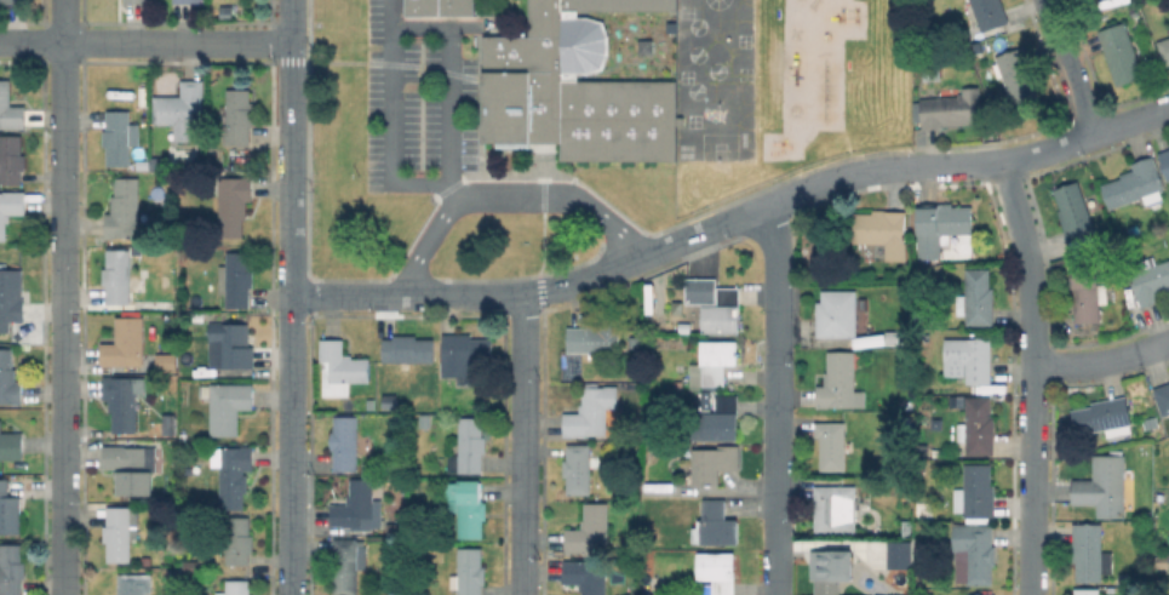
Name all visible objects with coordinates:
building: (13, 1)
building: (137, 1)
building: (189, 1)
building: (437, 6)
building: (228, 11)
building: (990, 13)
road: (145, 42)
building: (1164, 48)
building: (1122, 53)
road: (1072, 68)
building: (1019, 78)
road: (447, 86)
building: (572, 87)
building: (182, 108)
building: (953, 108)
building: (10, 109)
building: (239, 115)
road: (389, 116)
building: (120, 137)
building: (11, 159)
building: (157, 160)
building: (1165, 160)
building: (1135, 183)
road: (499, 193)
building: (233, 202)
building: (10, 208)
building: (125, 208)
building: (1075, 211)
road: (730, 216)
road: (291, 224)
building: (941, 225)
road: (63, 228)
building: (1134, 229)
building: (883, 230)
building: (0, 263)
building: (119, 275)
building: (1150, 279)
building: (236, 280)
building: (701, 290)
building: (905, 290)
building: (1088, 292)
building: (11, 296)
building: (978, 298)
building: (723, 311)
building: (837, 313)
road: (778, 316)
building: (686, 327)
road: (1031, 330)
building: (899, 334)
building: (595, 339)
building: (871, 339)
building: (125, 342)
building: (634, 342)
building: (231, 344)
building: (408, 348)
building: (466, 350)
building: (969, 360)
building: (164, 361)
building: (714, 362)
road: (1102, 365)
building: (340, 367)
road: (522, 368)
building: (8, 379)
building: (841, 383)
building: (1163, 397)
building: (124, 399)
building: (388, 401)
building: (227, 406)
building: (592, 411)
building: (1105, 417)
building: (718, 419)
building: (979, 428)
building: (1167, 428)
building: (345, 442)
building: (832, 445)
building: (10, 446)
building: (469, 446)
building: (715, 462)
building: (130, 467)
building: (578, 468)
building: (233, 473)
building: (1104, 486)
building: (976, 492)
building: (172, 496)
building: (1161, 498)
building: (468, 507)
building: (359, 508)
building: (8, 509)
building: (836, 509)
building: (1147, 514)
road: (775, 516)
road: (522, 519)
road: (292, 521)
building: (716, 525)
road: (63, 526)
building: (907, 527)
building: (396, 528)
building: (590, 528)
building: (121, 531)
building: (239, 539)
road: (1035, 547)
building: (974, 551)
building: (1088, 551)
building: (900, 554)
building: (345, 565)
building: (11, 570)
building: (717, 572)
building: (471, 573)
building: (832, 573)
building: (588, 574)
building: (1124, 577)
building: (132, 584)
building: (236, 587)
building: (1087, 591)
building: (981, 594)

